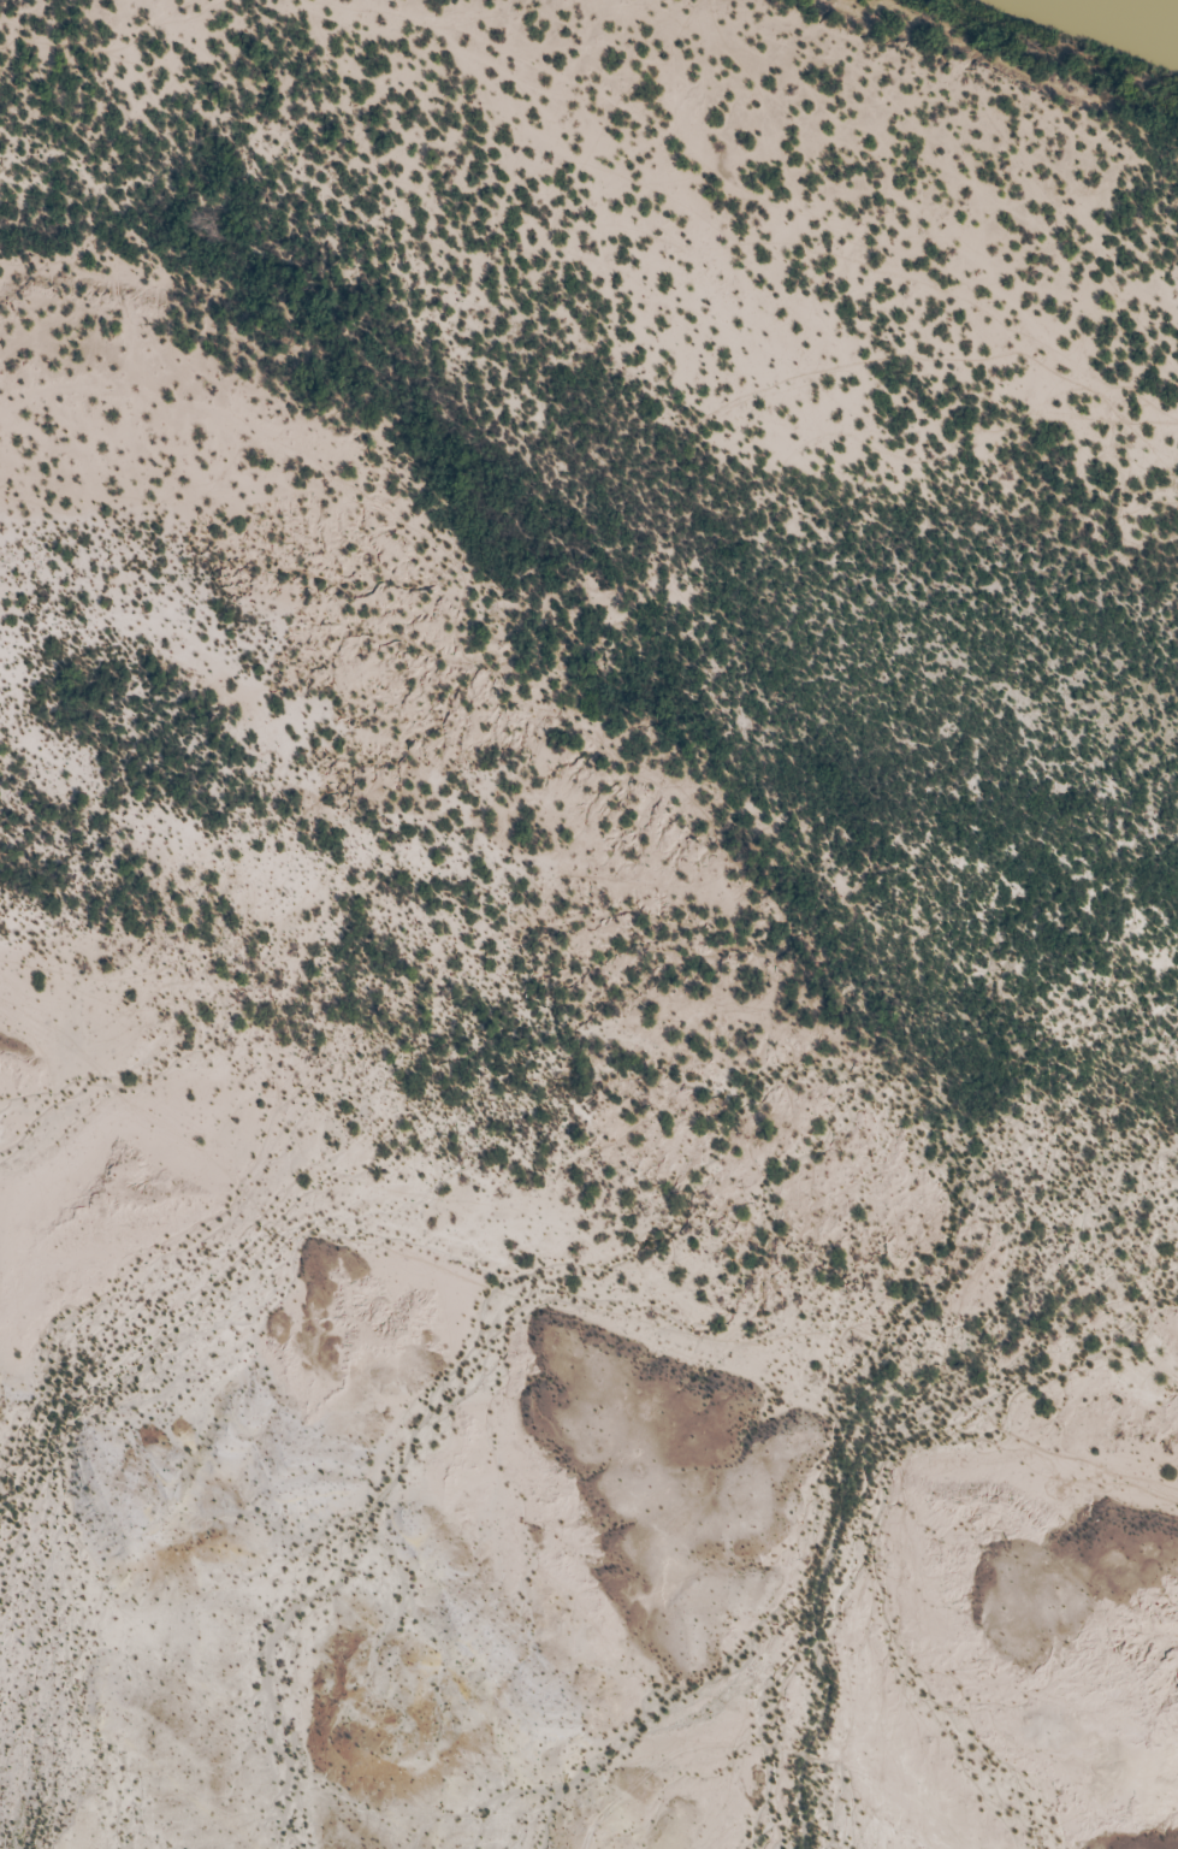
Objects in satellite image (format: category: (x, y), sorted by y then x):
river: (1133, 16)

